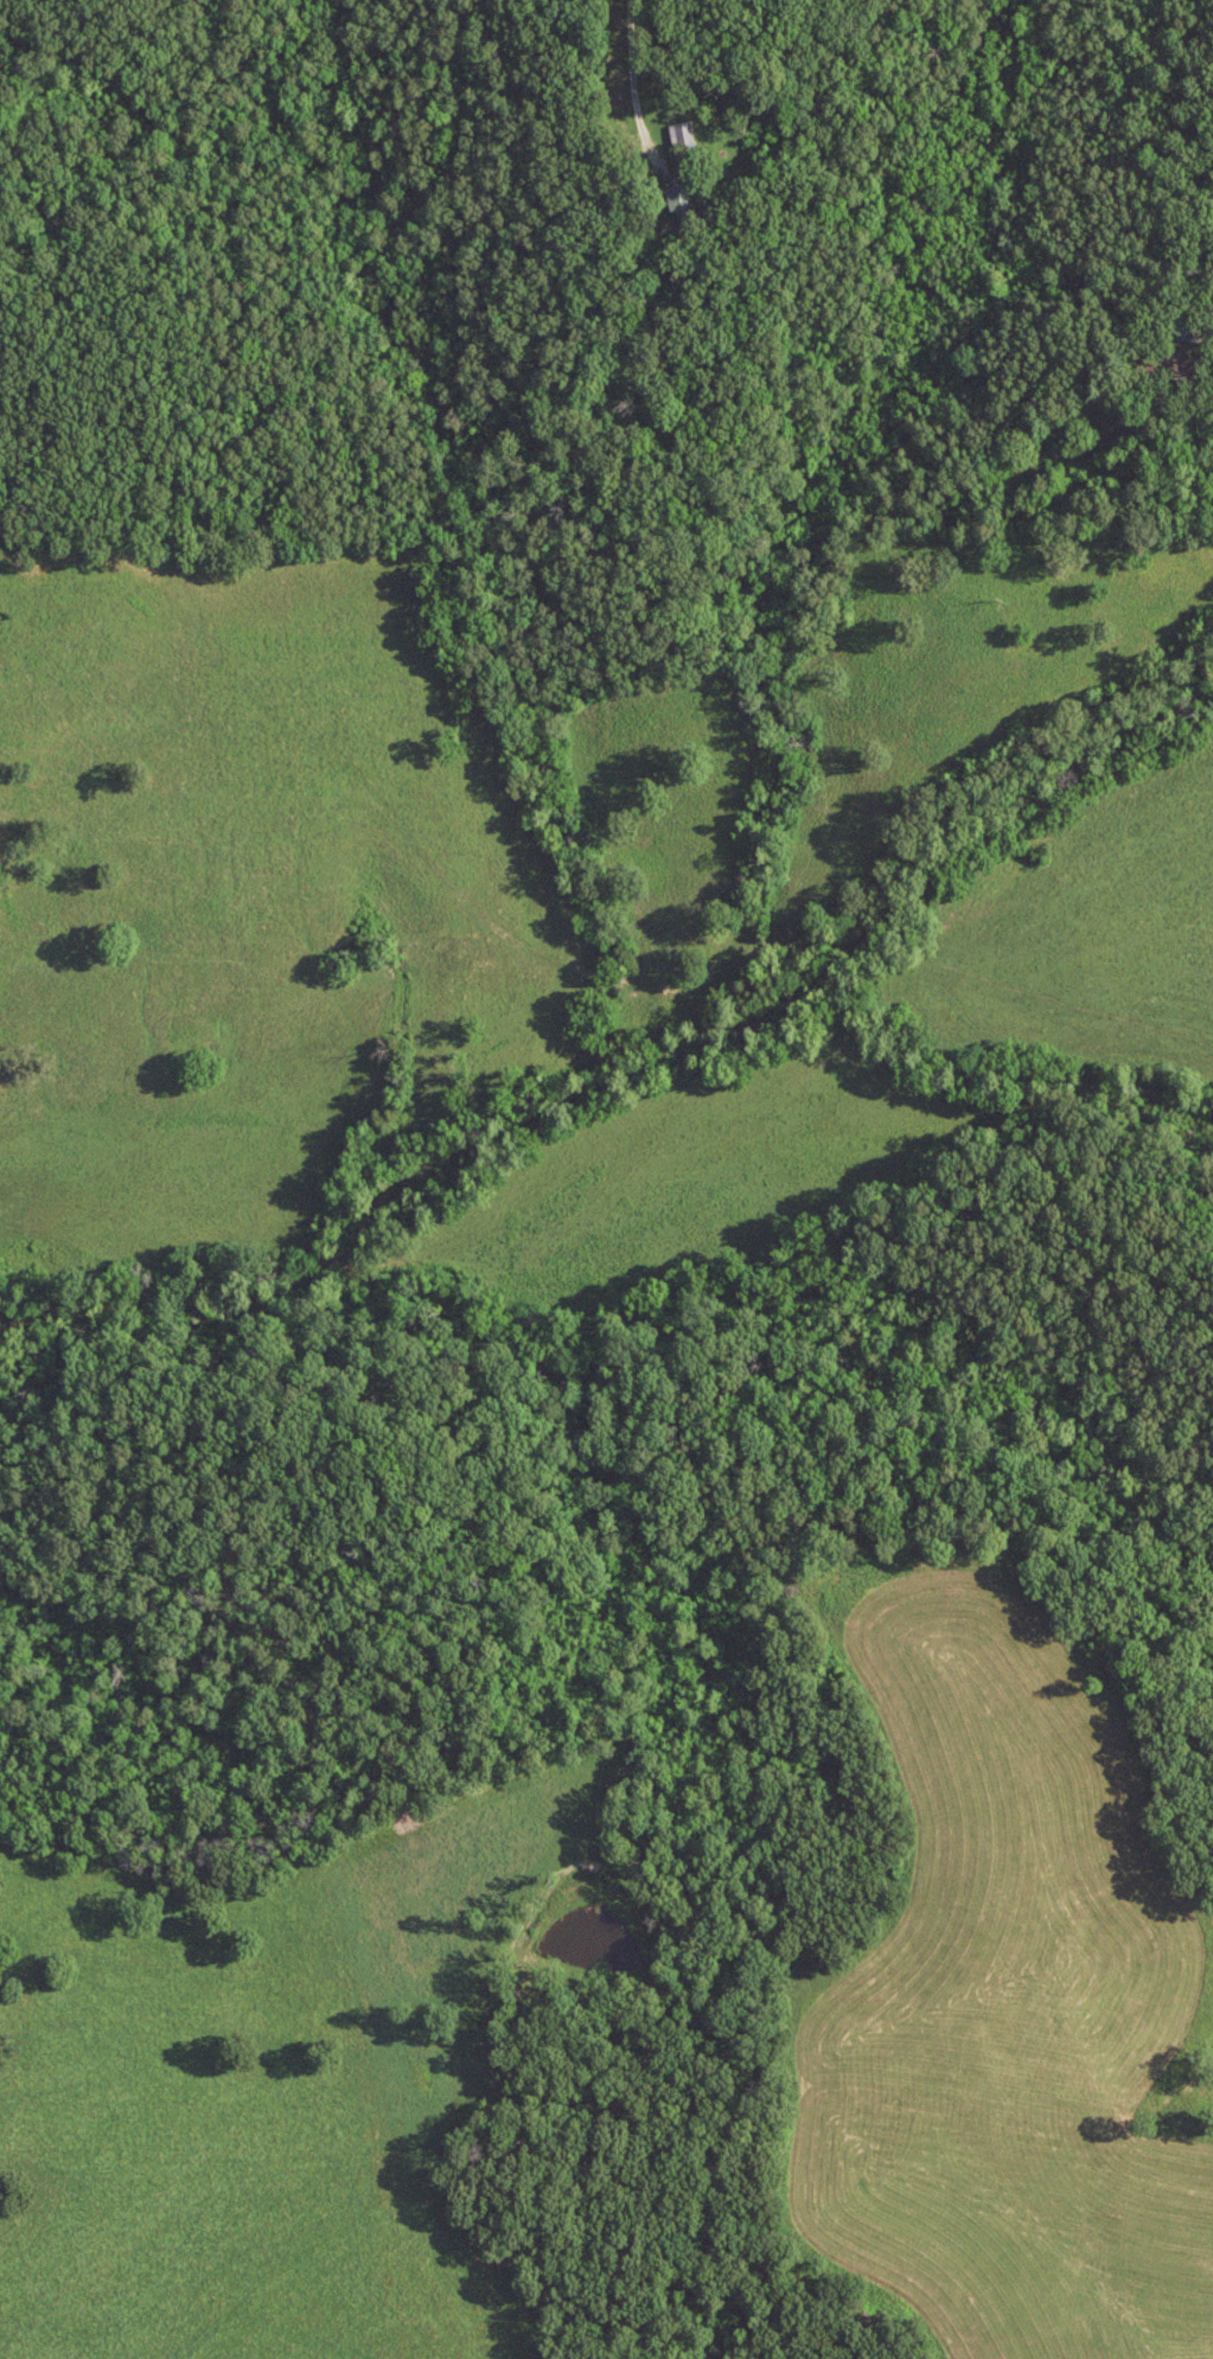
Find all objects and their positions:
road: (638, 85)

